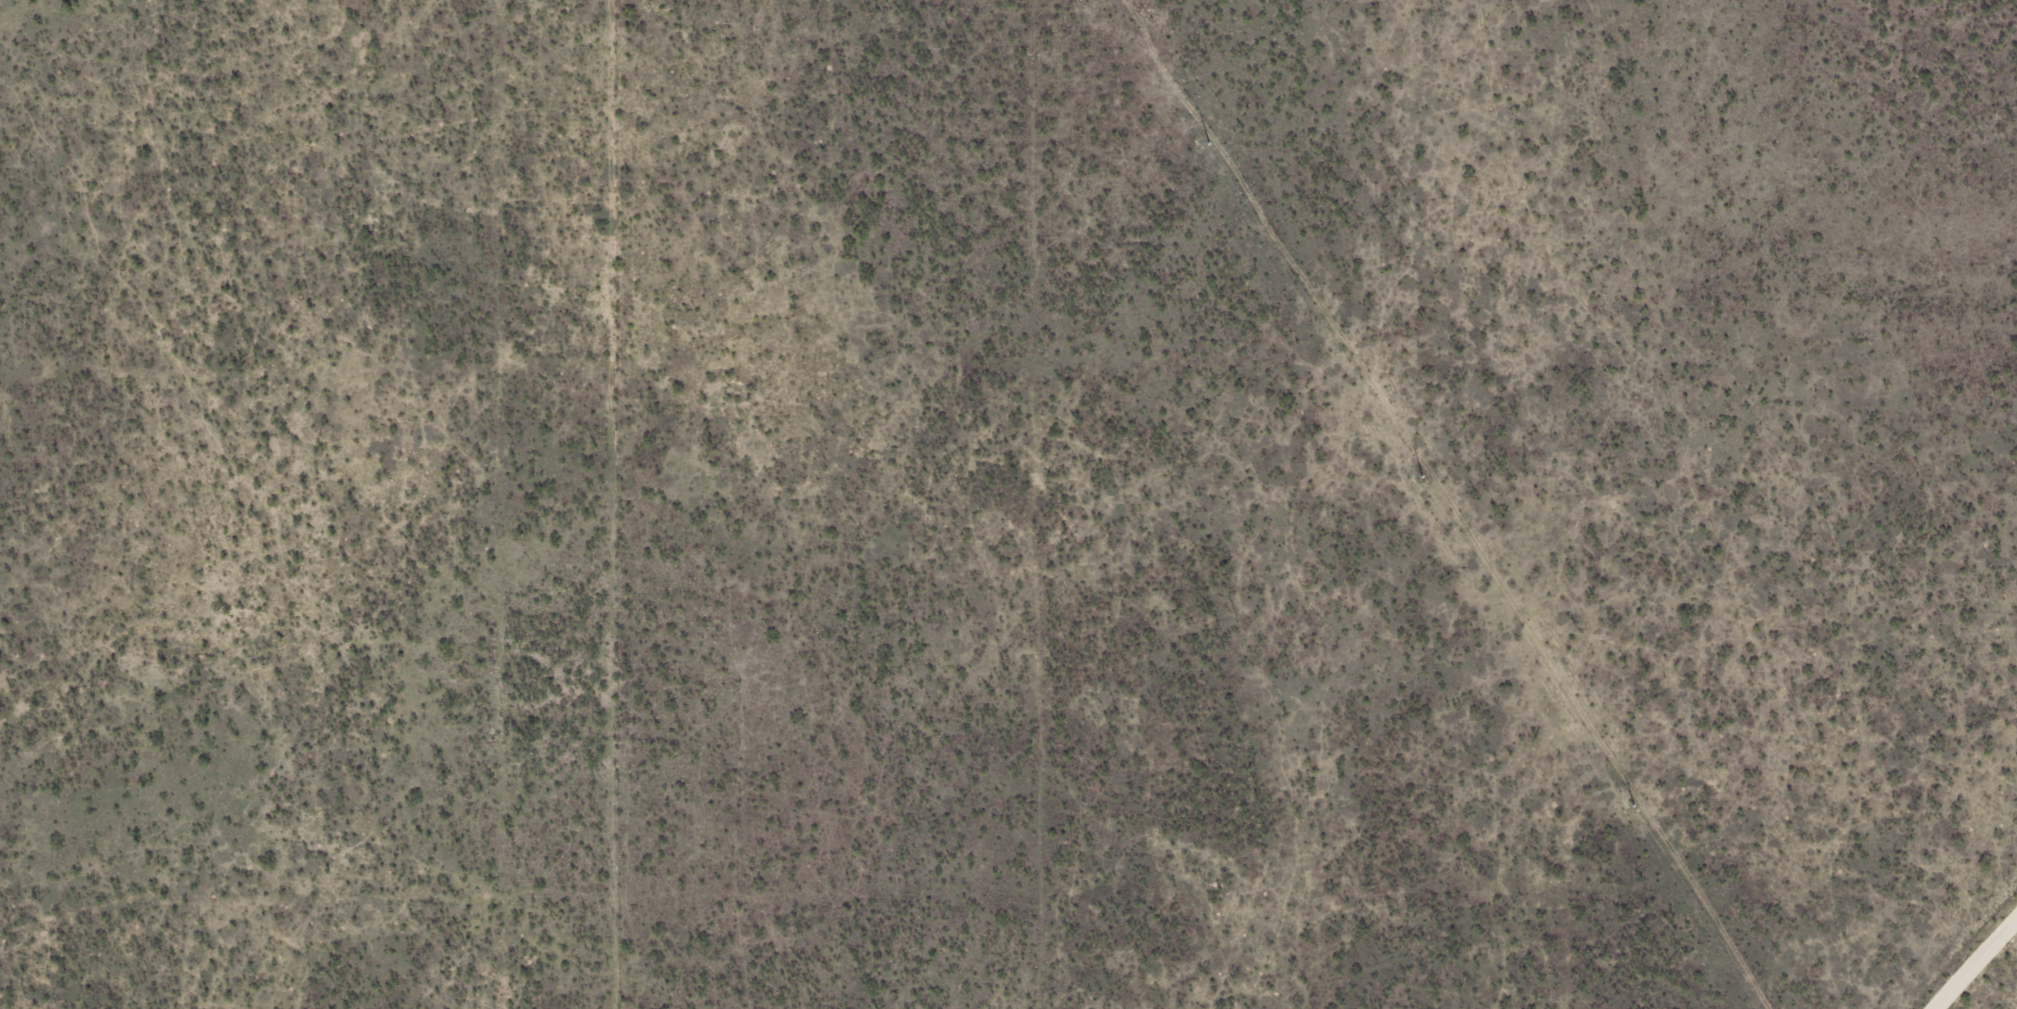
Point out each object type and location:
road: (2004, 995)

